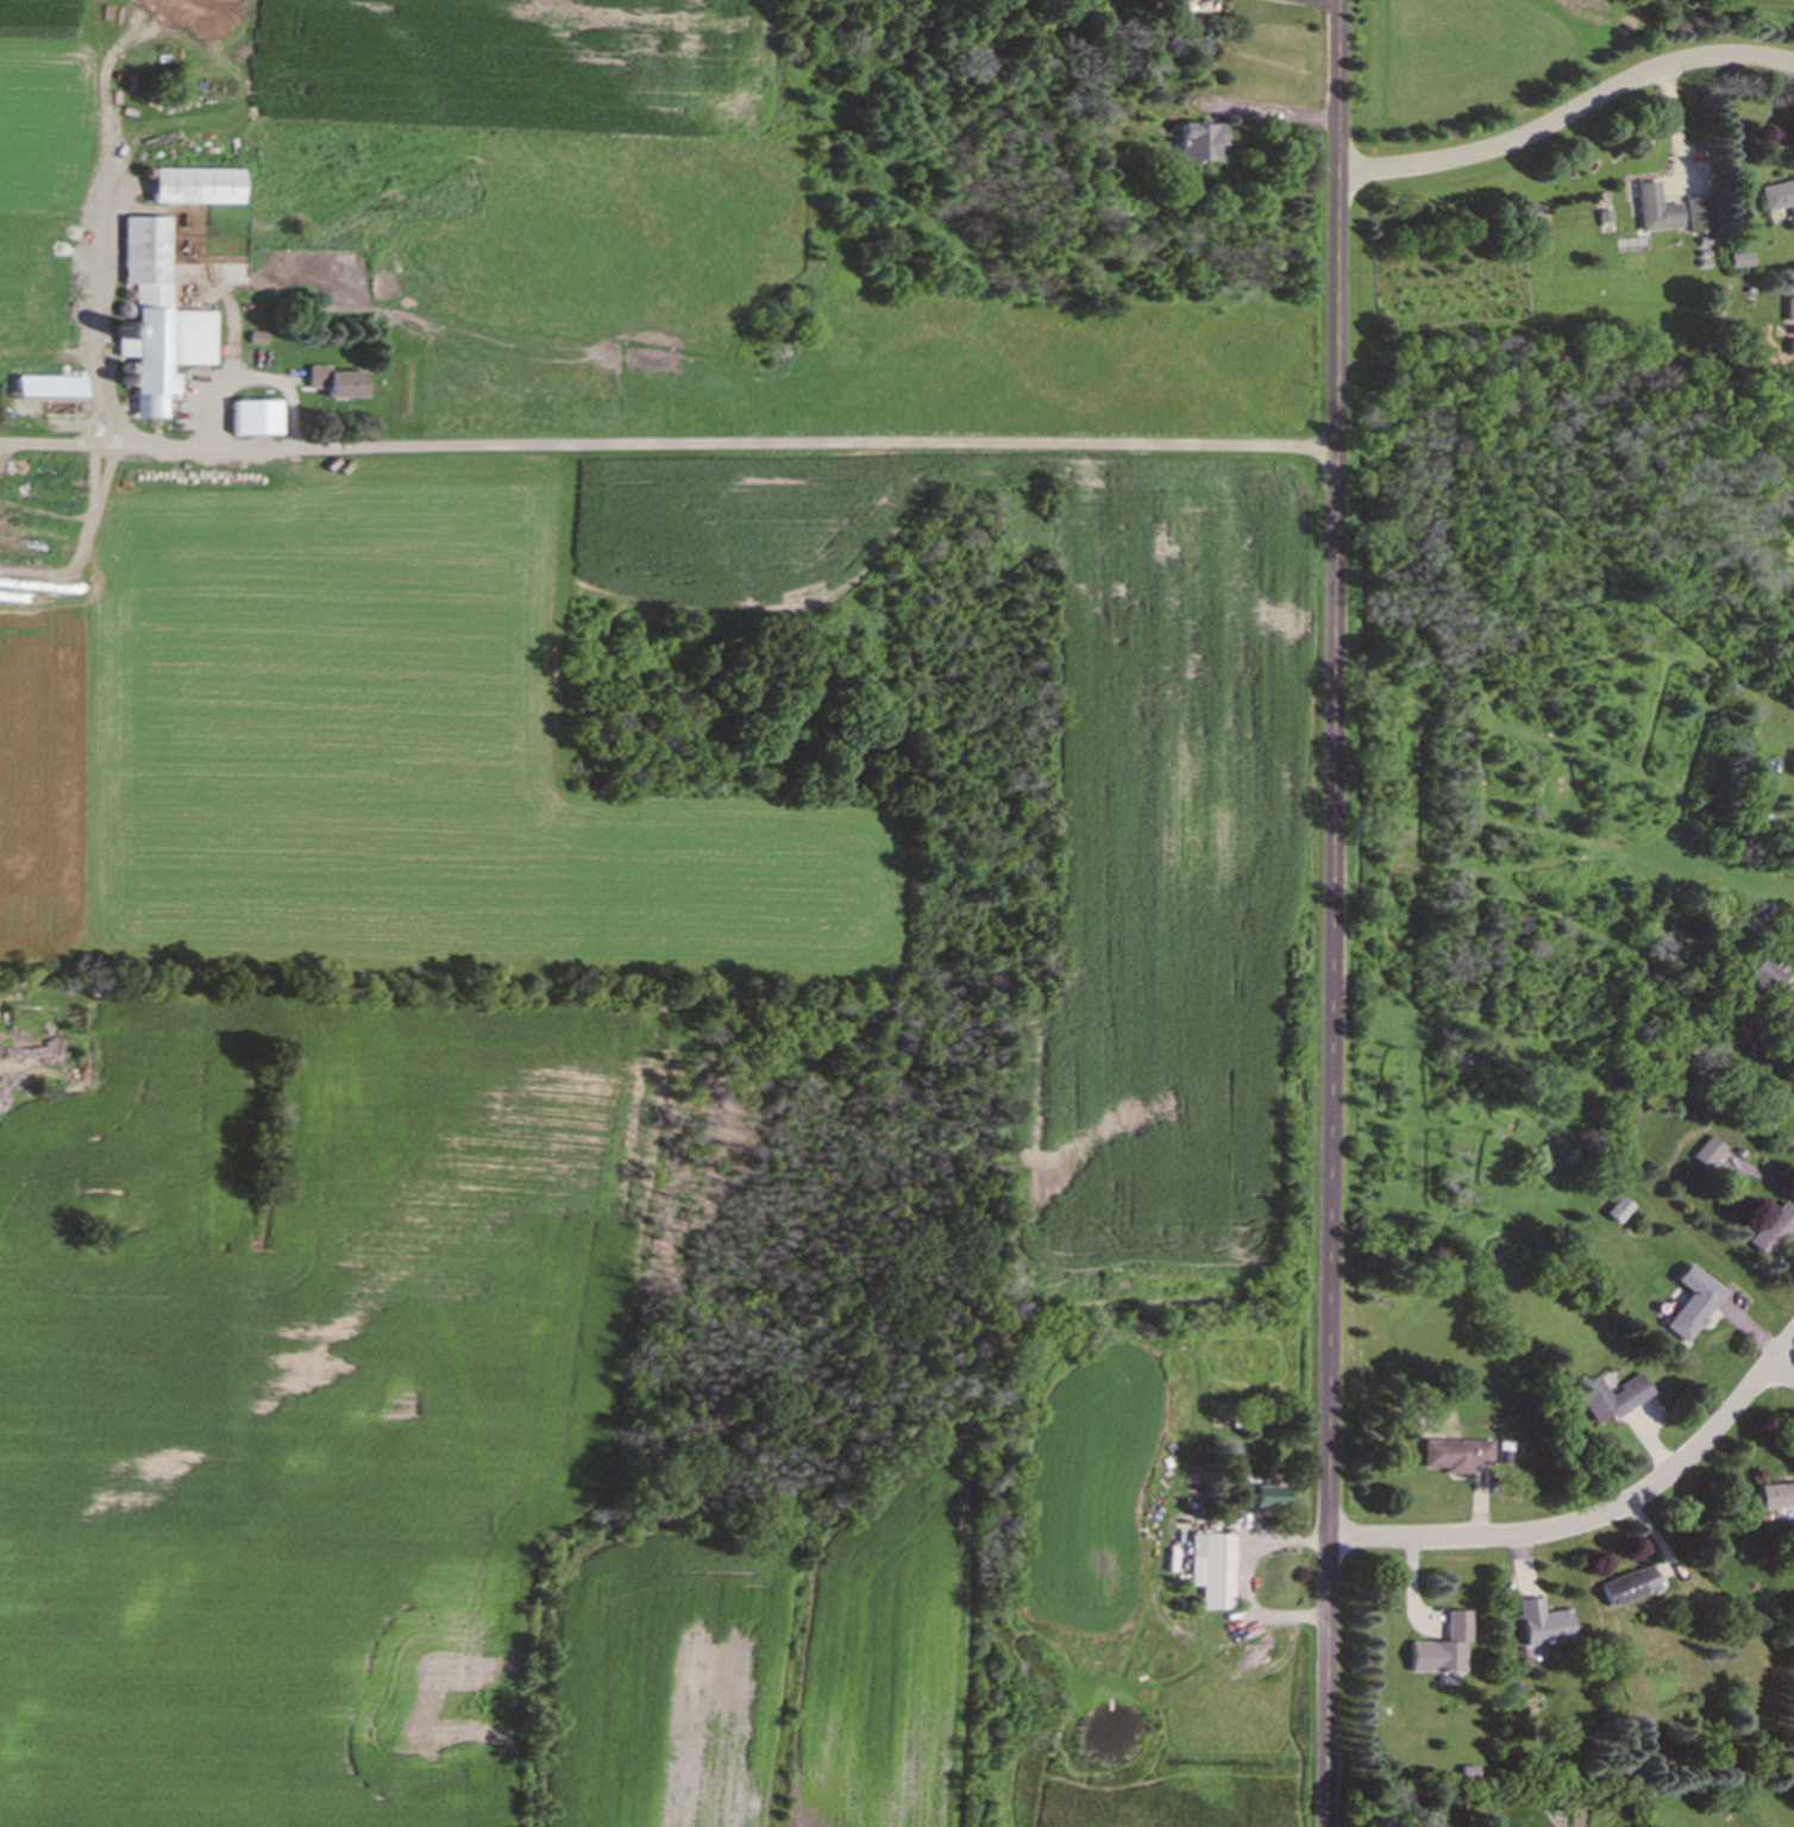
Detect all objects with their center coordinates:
road: (1328, 1)
road: (1566, 112)
building: (1196, 146)
building: (192, 190)
building: (1776, 201)
building: (1648, 213)
building: (1786, 314)
building: (156, 324)
building: (330, 384)
building: (252, 420)
road: (729, 445)
road: (1331, 912)
building: (1761, 980)
building: (1706, 1156)
building: (1617, 1213)
building: (1771, 1232)
building: (1688, 1306)
road: (1783, 1369)
building: (1606, 1400)
building: (1453, 1457)
building: (1774, 1498)
building: (1259, 1500)
road: (1597, 1518)
building: (1211, 1575)
road: (1243, 1583)
building: (1625, 1588)
building: (1538, 1626)
building: (1439, 1651)

